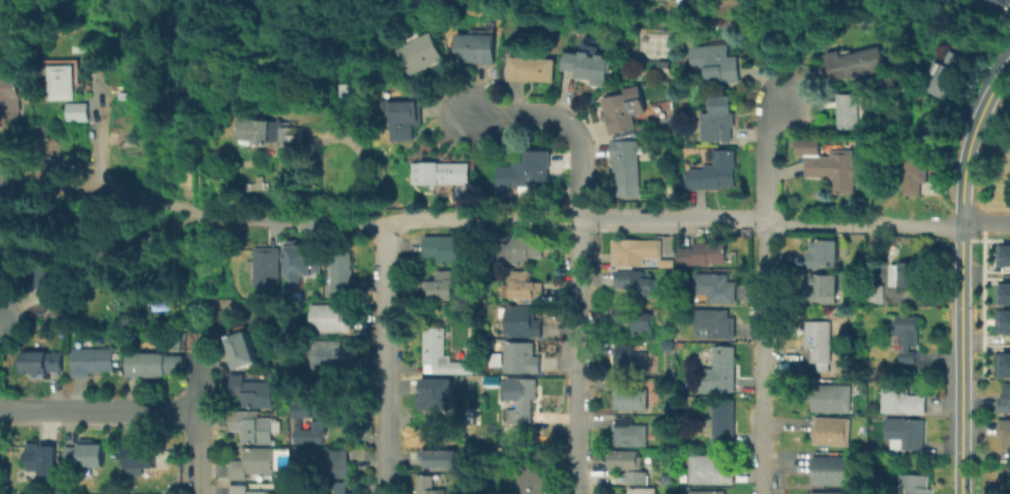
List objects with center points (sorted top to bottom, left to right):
building: (1003, 5)
building: (476, 46)
building: (6, 49)
building: (422, 54)
building: (716, 63)
building: (855, 65)
building: (590, 68)
building: (532, 70)
building: (951, 75)
building: (67, 80)
building: (351, 94)
building: (12, 99)
building: (624, 112)
building: (80, 113)
building: (851, 113)
building: (403, 120)
building: (718, 121)
road: (566, 123)
building: (273, 132)
road: (972, 142)
building: (625, 163)
building: (50, 169)
building: (836, 172)
building: (921, 172)
building: (715, 173)
building: (527, 174)
building: (443, 176)
building: (12, 178)
road: (125, 189)
road: (472, 219)
road: (670, 221)
road: (291, 222)
road: (986, 224)
road: (862, 225)
building: (15, 249)
building: (448, 251)
building: (520, 251)
building: (635, 253)
building: (825, 254)
building: (703, 255)
building: (1003, 255)
building: (105, 260)
building: (306, 261)
building: (666, 263)
building: (270, 268)
building: (908, 273)
building: (345, 274)
building: (637, 282)
building: (48, 285)
building: (443, 286)
building: (526, 286)
building: (717, 289)
building: (824, 290)
road: (762, 292)
building: (1002, 293)
building: (164, 300)
road: (962, 303)
building: (334, 319)
building: (633, 320)
building: (1003, 320)
building: (526, 323)
building: (716, 324)
building: (909, 338)
building: (820, 342)
building: (241, 351)
building: (332, 355)
building: (440, 355)
building: (520, 357)
road: (577, 357)
road: (387, 358)
building: (630, 361)
building: (95, 362)
building: (43, 364)
building: (1003, 365)
building: (158, 366)
building: (720, 373)
road: (200, 379)
building: (255, 392)
building: (435, 393)
building: (630, 397)
building: (1004, 398)
building: (829, 400)
building: (903, 402)
building: (525, 404)
road: (99, 408)
building: (302, 410)
building: (724, 423)
building: (253, 426)
building: (832, 433)
building: (312, 434)
building: (630, 434)
building: (905, 434)
building: (1005, 436)
road: (961, 437)
road: (197, 451)
building: (86, 456)
building: (444, 456)
building: (141, 457)
building: (43, 460)
building: (339, 463)
building: (252, 464)
building: (631, 466)
building: (712, 471)
building: (830, 472)
building: (532, 477)
building: (430, 485)
building: (917, 485)
building: (248, 490)
building: (342, 490)
building: (642, 492)
building: (826, 492)
building: (708, 493)

